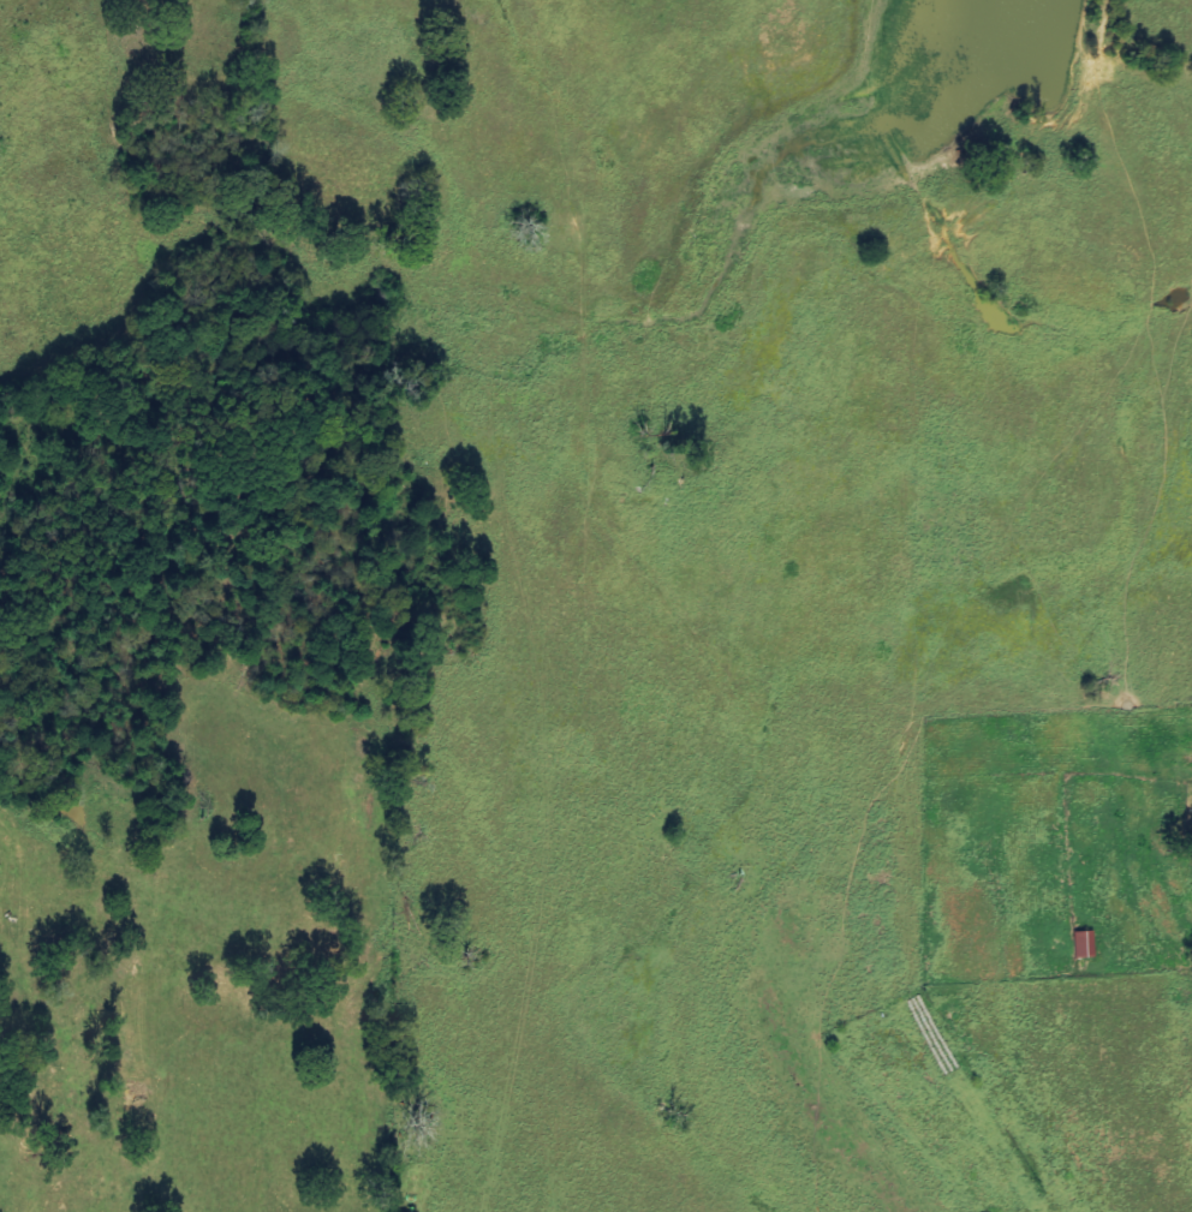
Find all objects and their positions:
building: (1083, 945)

